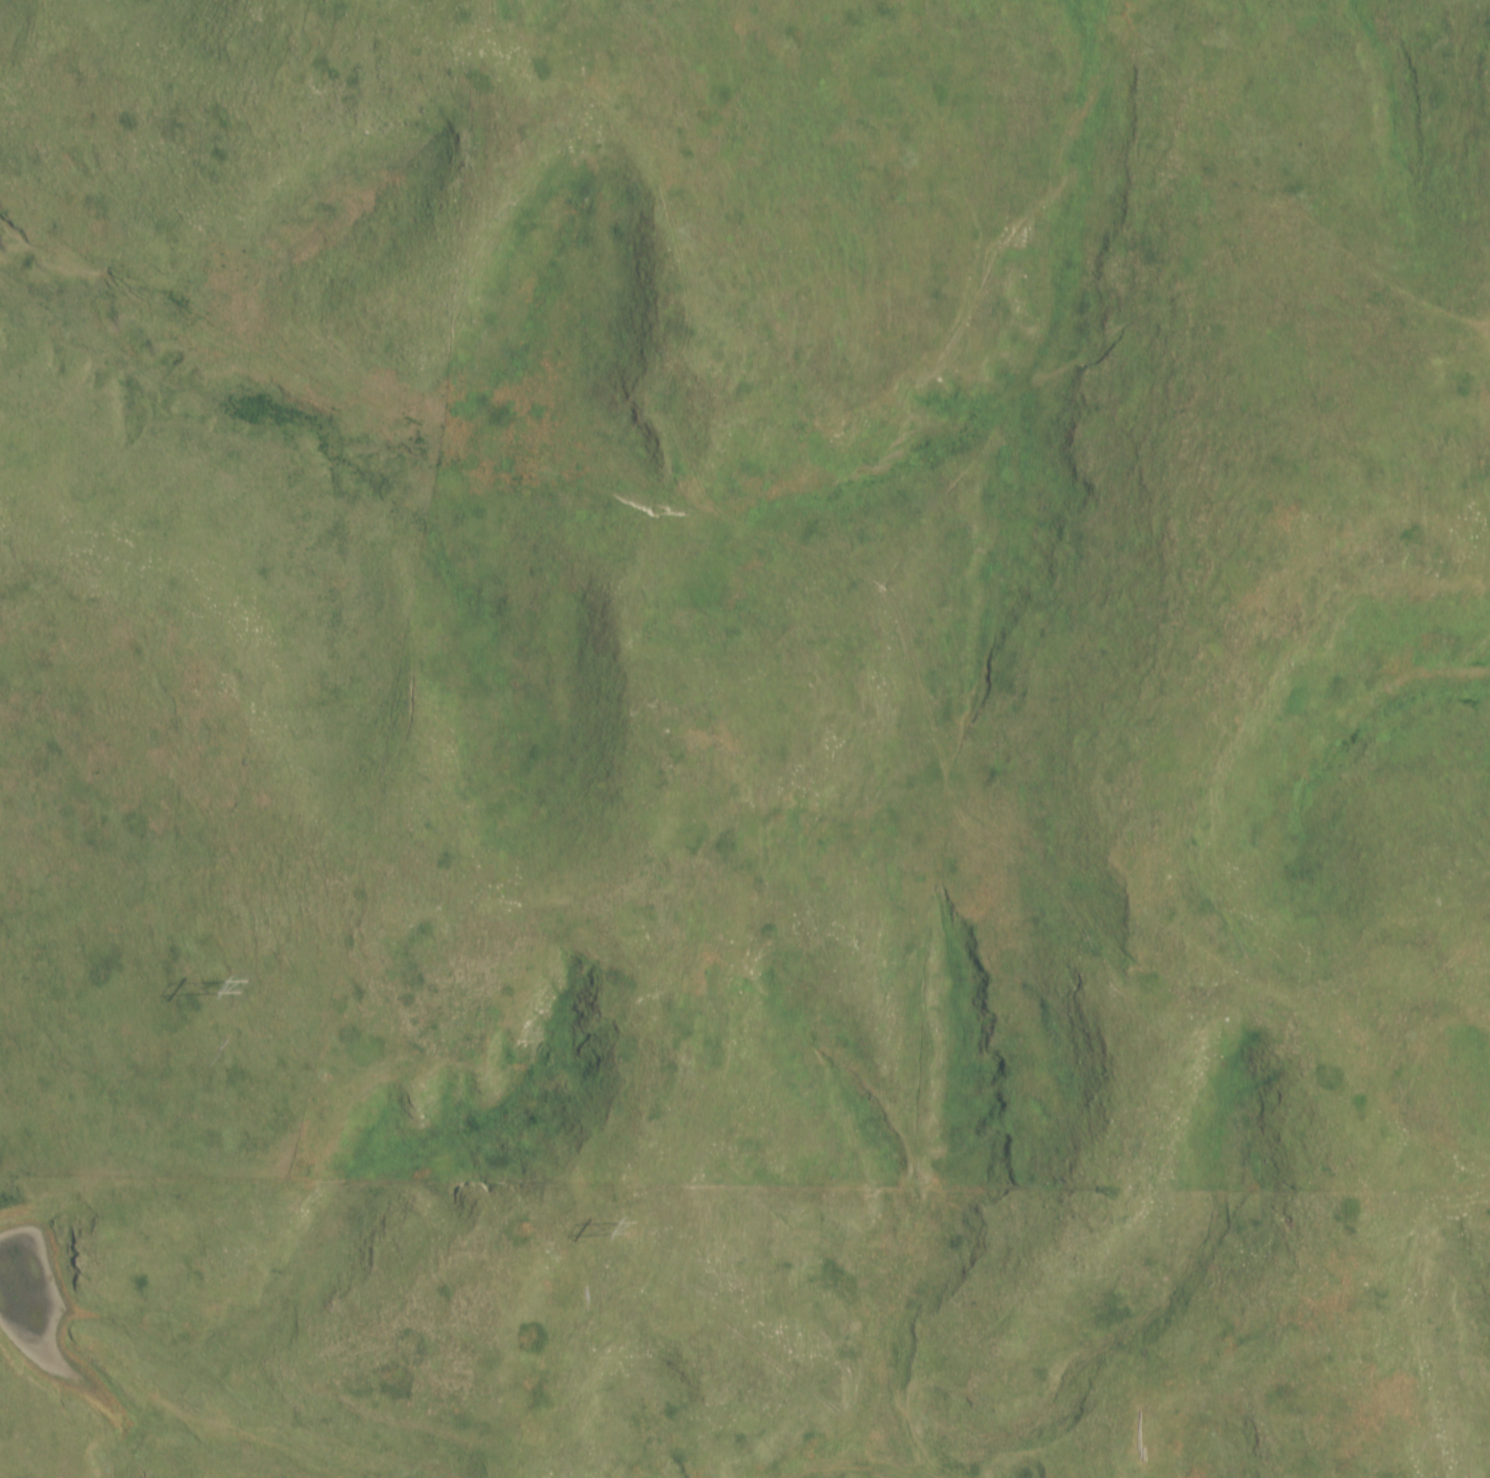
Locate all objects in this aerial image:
power tower: (240, 989)
power tower: (630, 1228)

